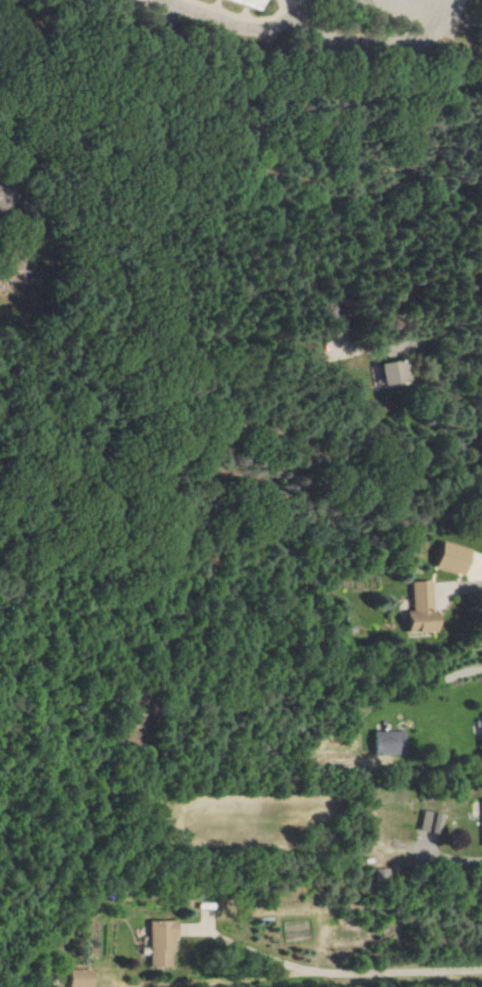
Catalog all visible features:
building: (244, 2)
road: (422, 6)
road: (368, 46)
road: (248, 89)
building: (3, 199)
building: (392, 372)
building: (450, 558)
building: (417, 610)
building: (478, 731)
building: (383, 743)
building: (480, 815)
building: (427, 822)
building: (379, 874)
building: (158, 944)
road: (261, 952)
road: (313, 973)
building: (77, 978)
road: (120, 985)

